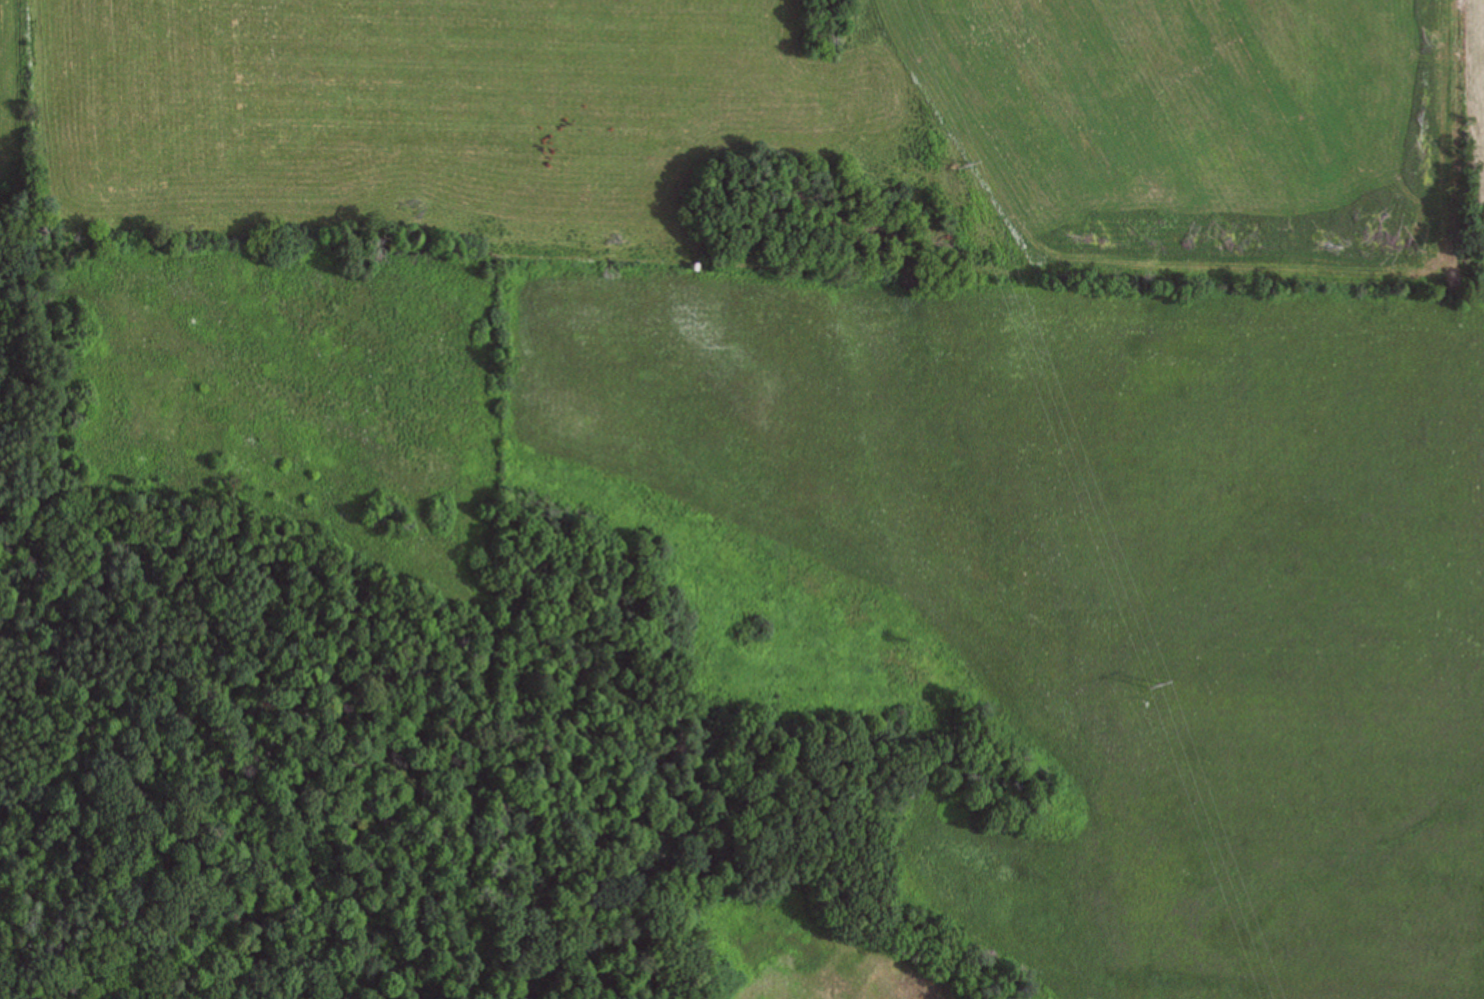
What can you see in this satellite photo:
power tower: (963, 163)
power tower: (1156, 685)

